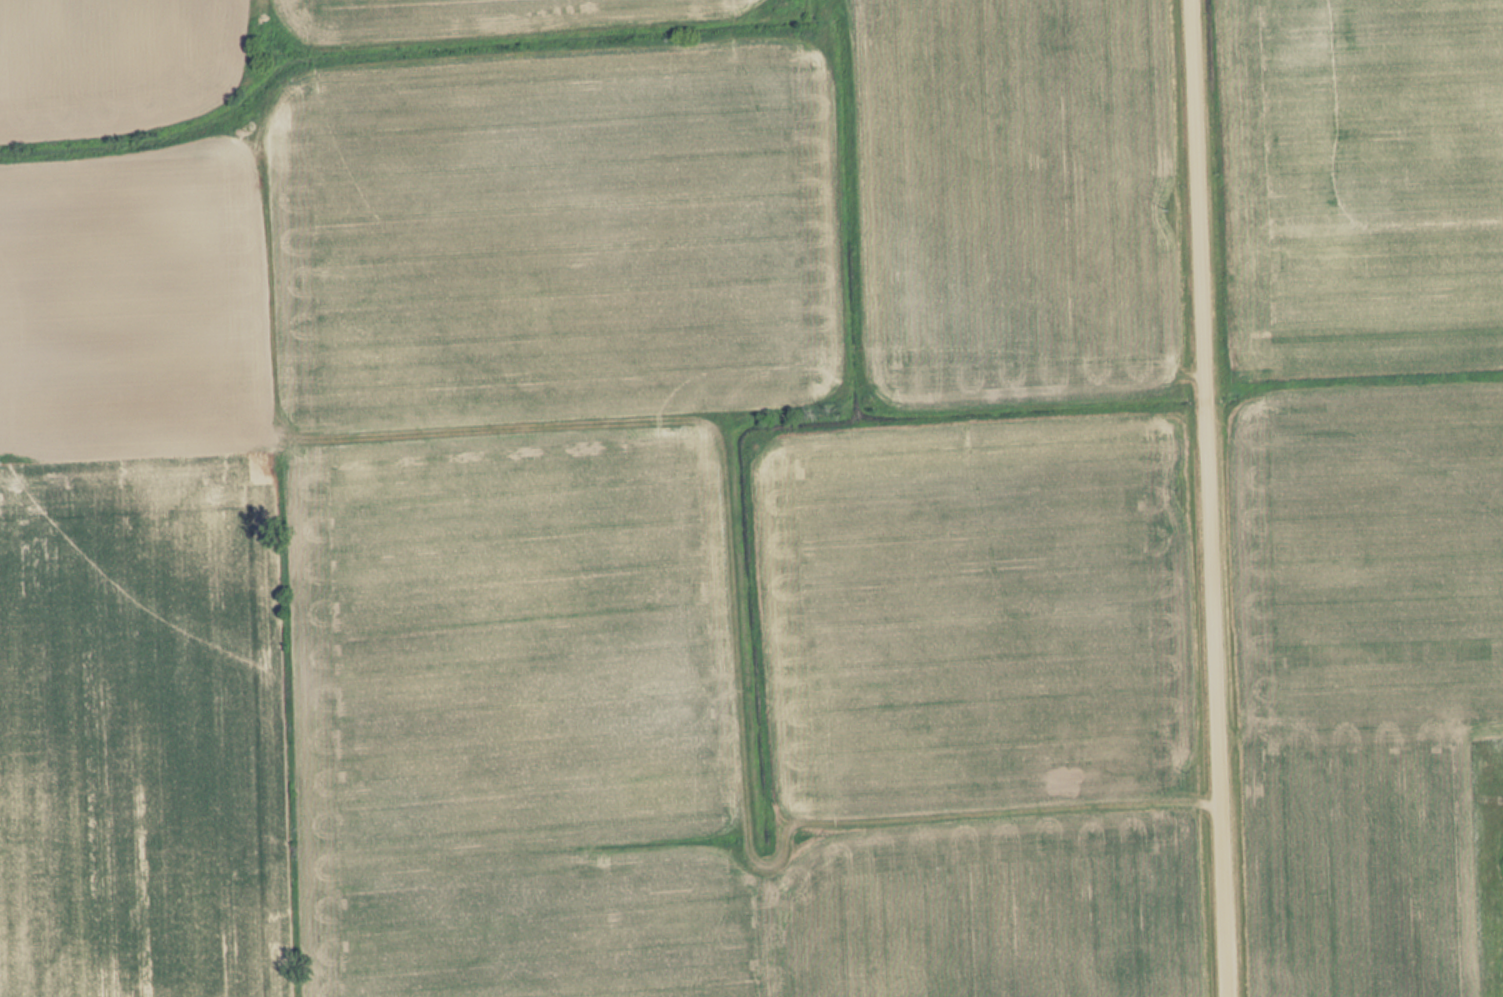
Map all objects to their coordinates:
road: (1203, 498)

